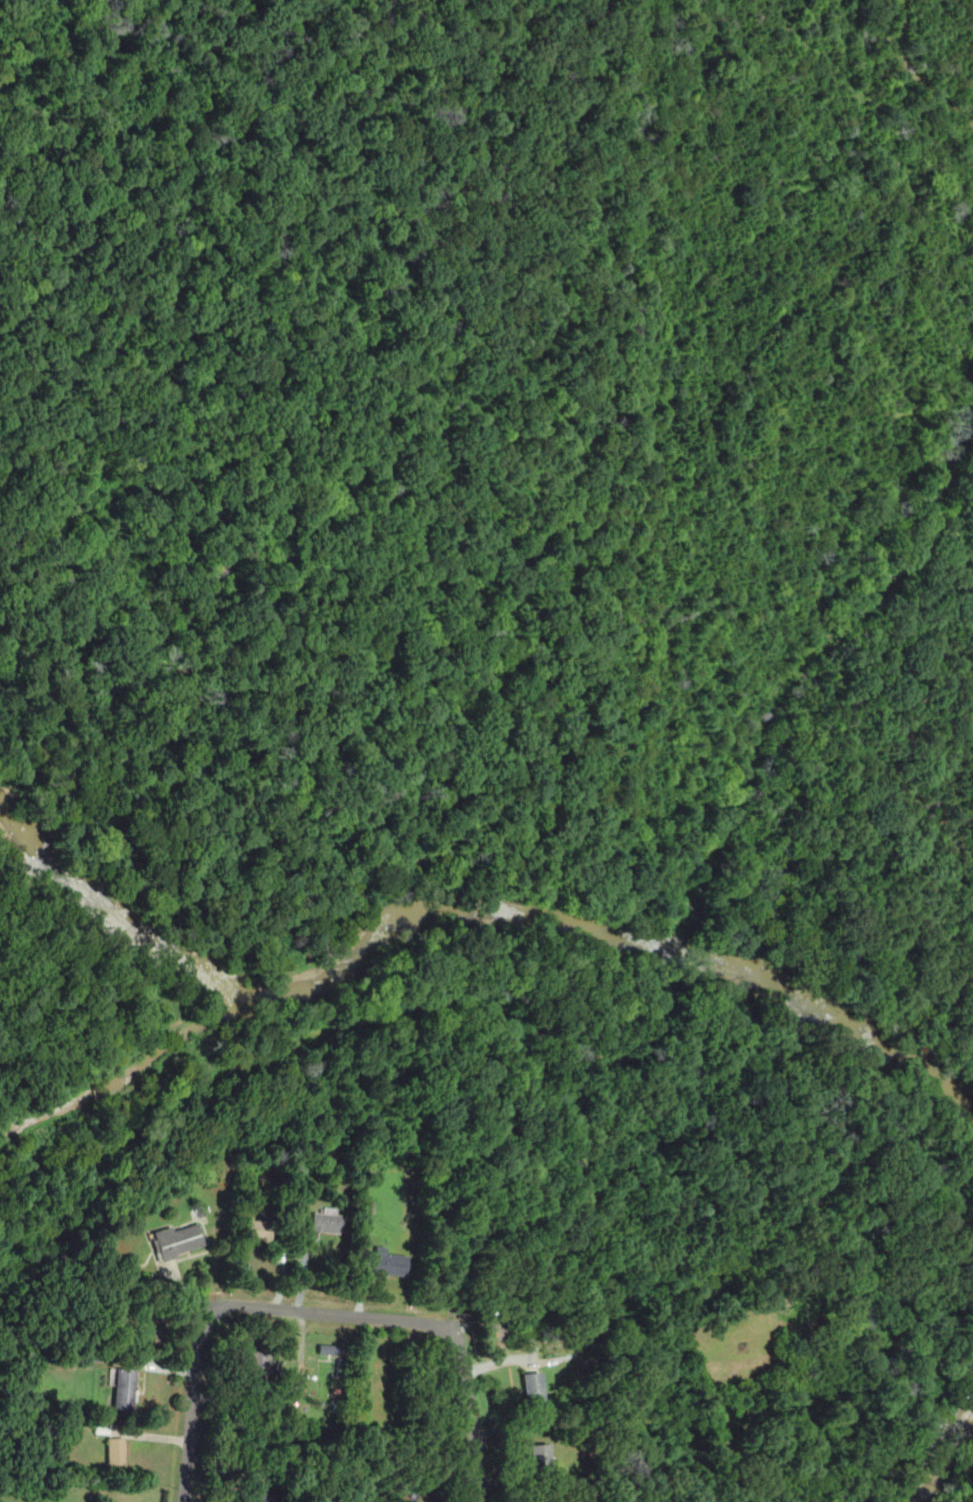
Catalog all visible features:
road: (462, 853)
river: (466, 920)
park: (956, 1084)
building: (199, 1210)
building: (326, 1223)
building: (257, 1229)
building: (177, 1239)
building: (392, 1263)
road: (402, 1318)
building: (329, 1348)
building: (259, 1366)
building: (535, 1389)
building: (124, 1390)
road: (189, 1421)
river: (945, 1446)
building: (115, 1452)
building: (542, 1456)
park: (956, 1463)
road: (966, 1486)
building: (256, 1491)
building: (574, 1500)
building: (413, 1501)

